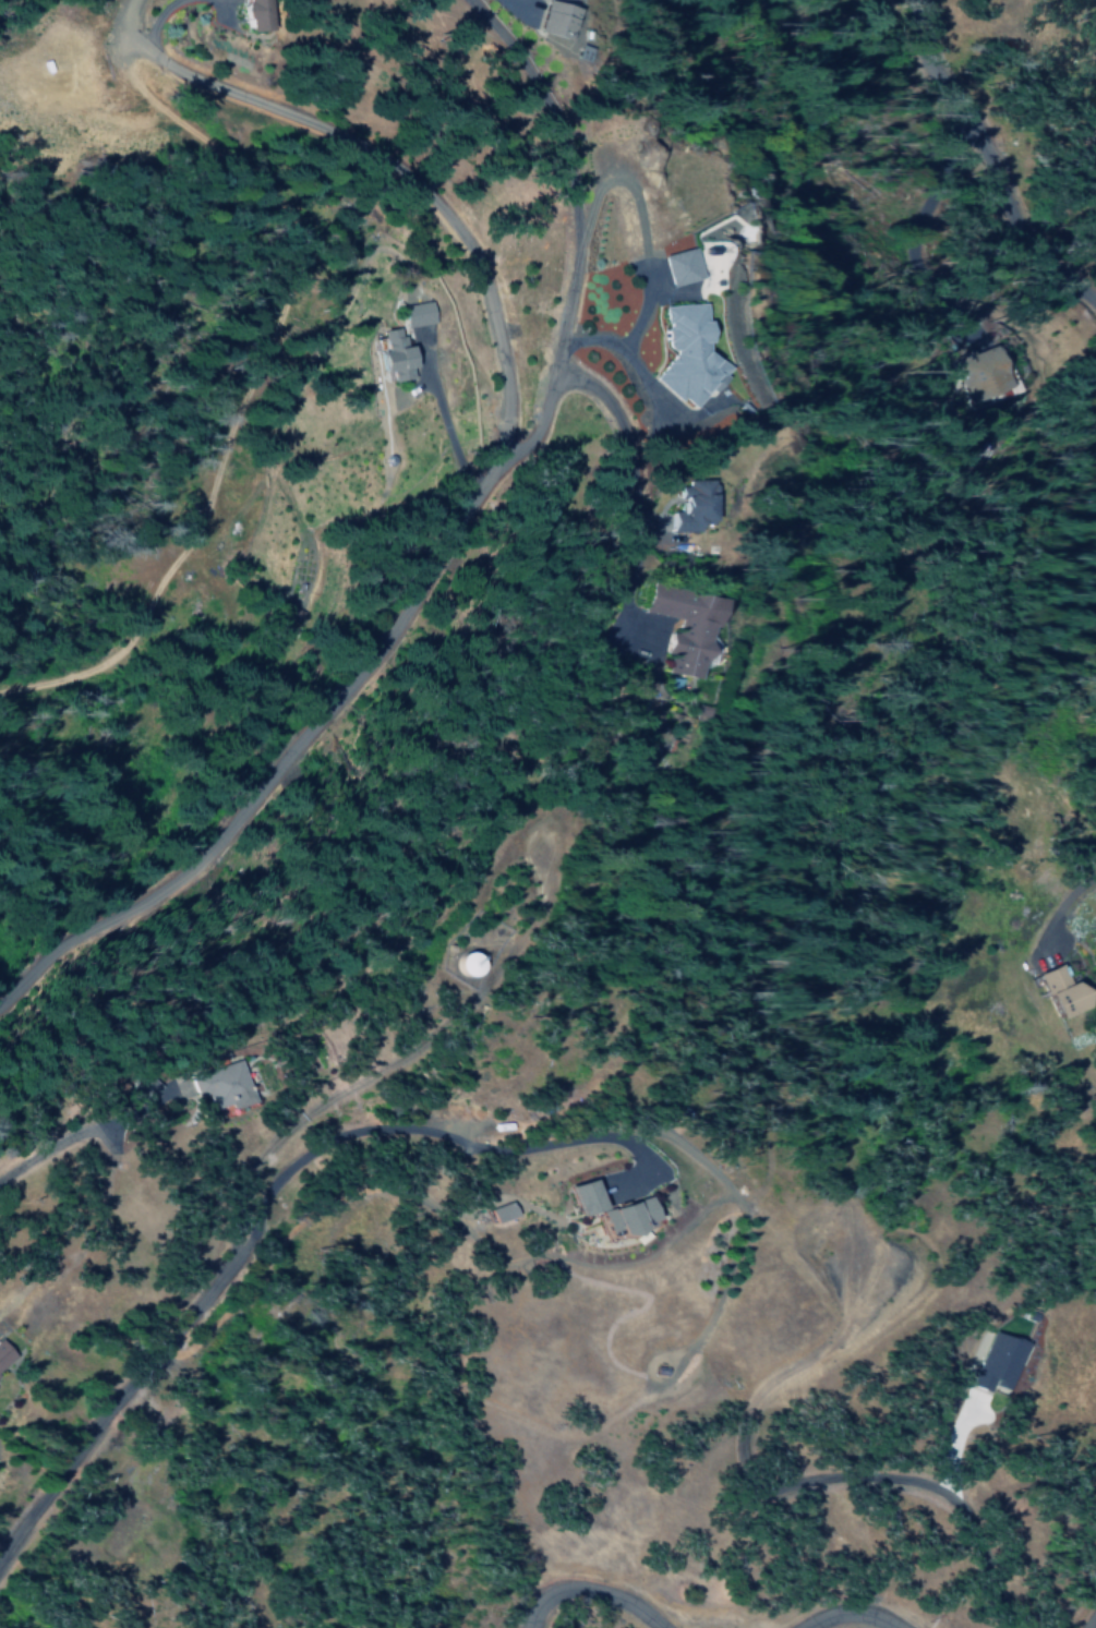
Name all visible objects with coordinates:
building: (257, 14)
building: (571, 15)
road: (231, 160)
road: (987, 162)
road: (578, 236)
building: (691, 264)
building: (418, 313)
building: (699, 352)
building: (394, 353)
building: (977, 372)
road: (467, 496)
building: (709, 502)
road: (640, 519)
building: (706, 624)
building: (490, 964)
building: (1063, 991)
road: (438, 1027)
building: (233, 1087)
road: (429, 1131)
road: (104, 1185)
road: (373, 1190)
building: (587, 1197)
building: (503, 1211)
building: (630, 1217)
road: (588, 1264)
building: (9, 1359)
building: (998, 1362)
road: (619, 1413)
road: (109, 1423)
road: (951, 1443)
road: (816, 1479)
road: (590, 1591)
road: (850, 1615)
road: (1093, 1623)

